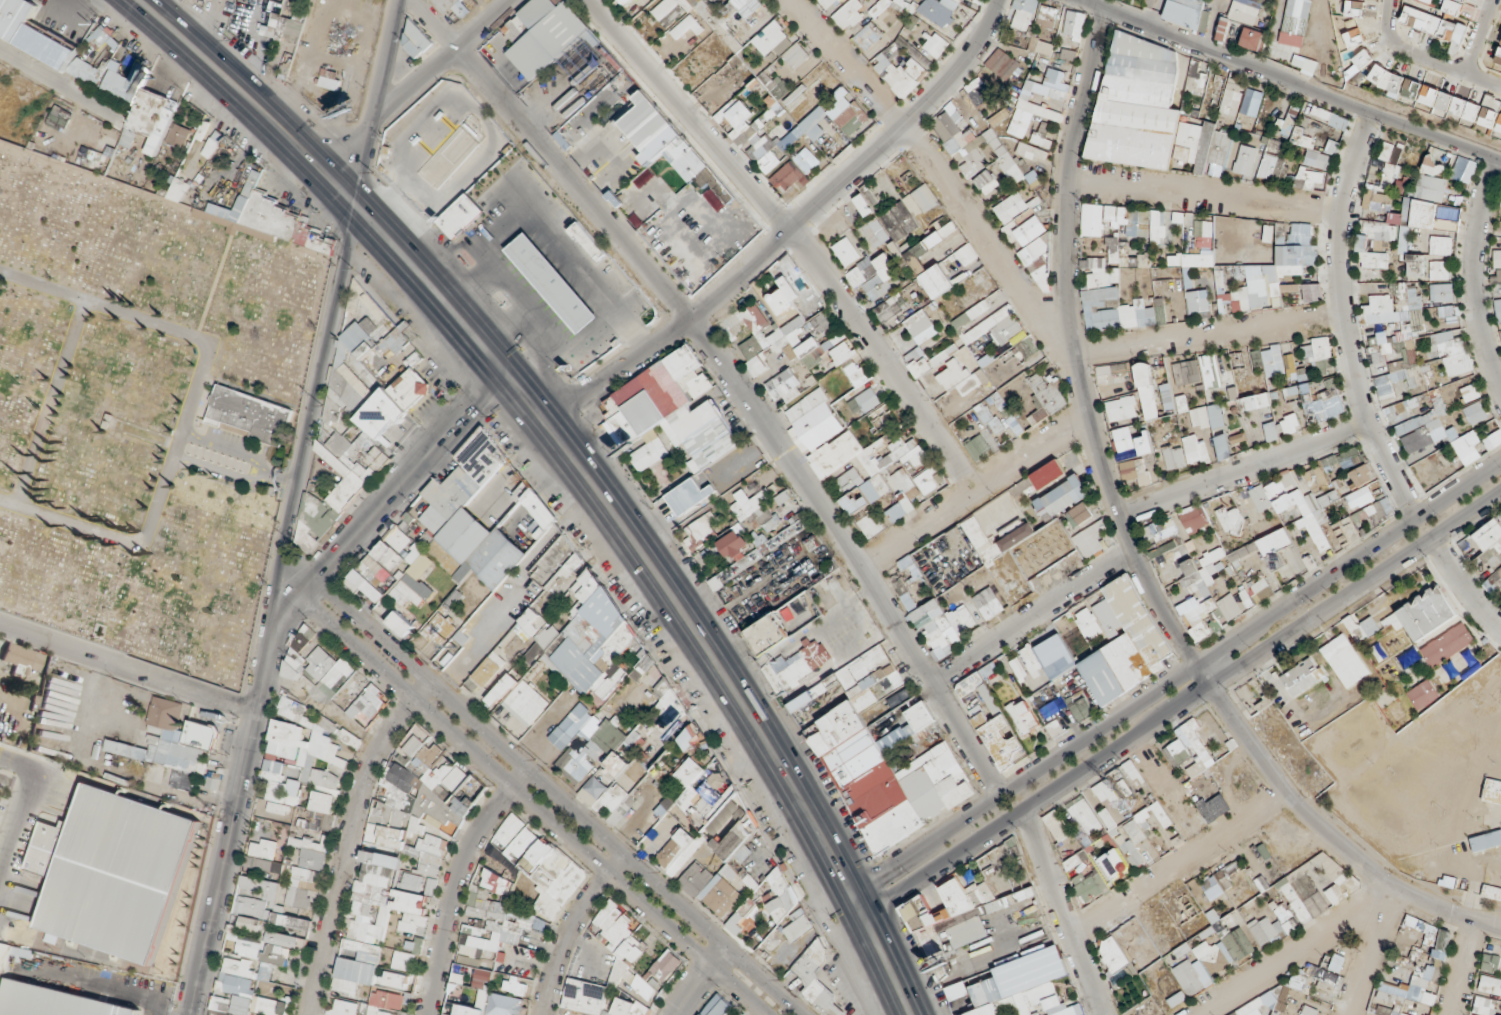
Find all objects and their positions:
park: (137, 413)
parking lot: (813, 631)

